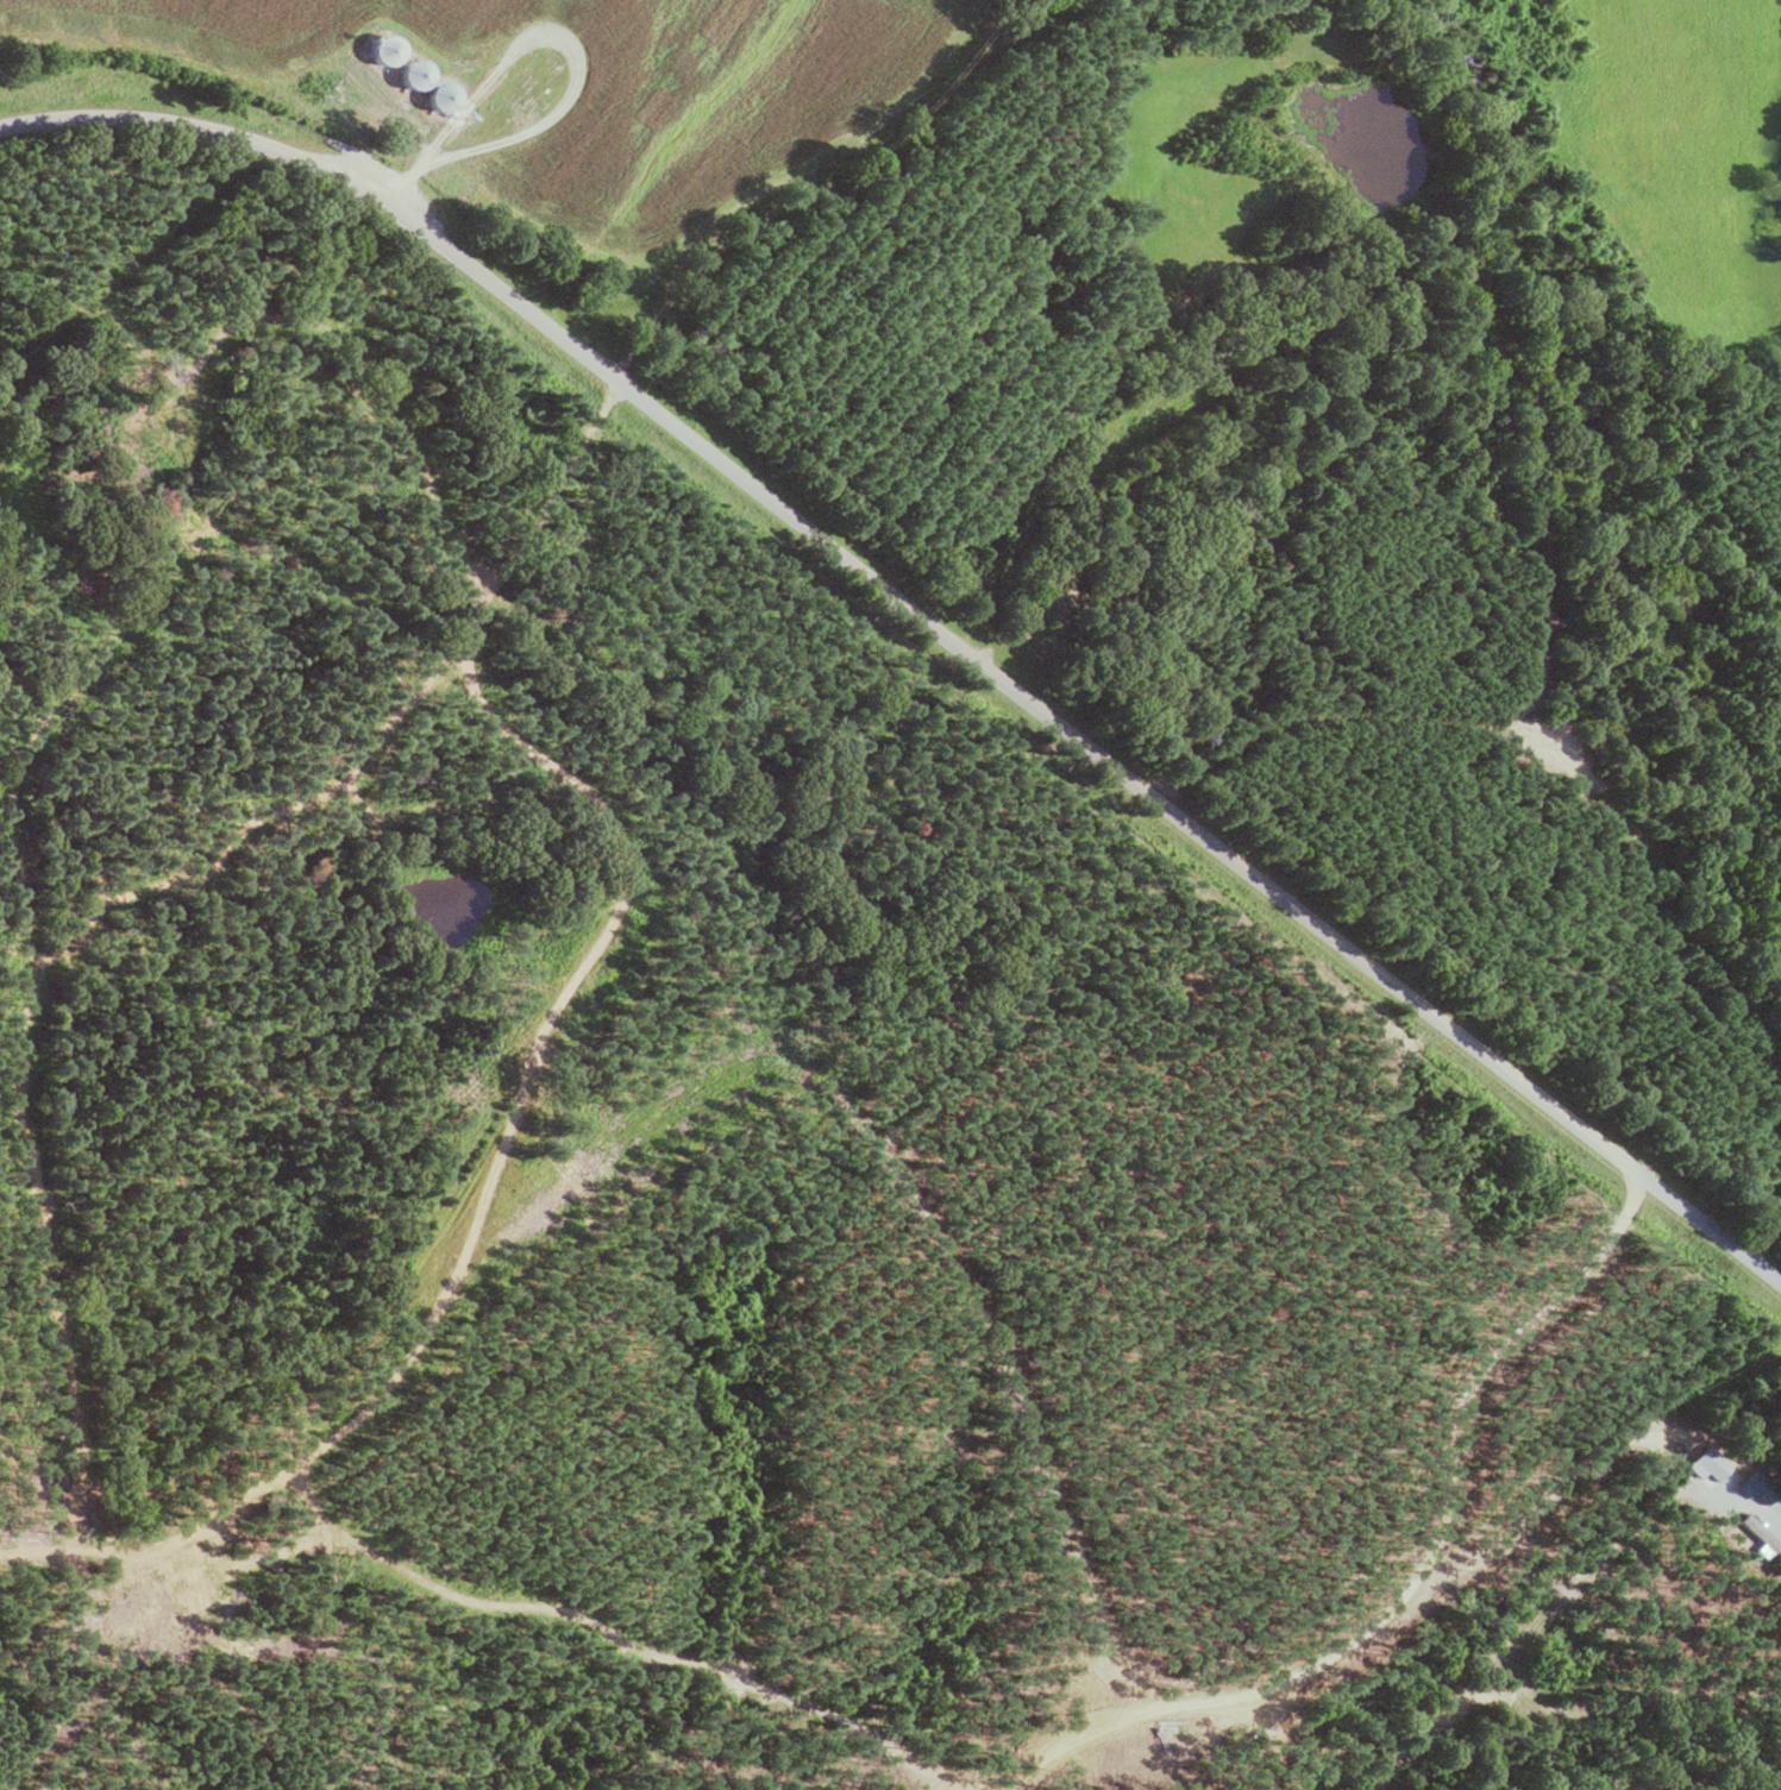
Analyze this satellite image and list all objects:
road: (924, 623)
building: (1756, 1538)

